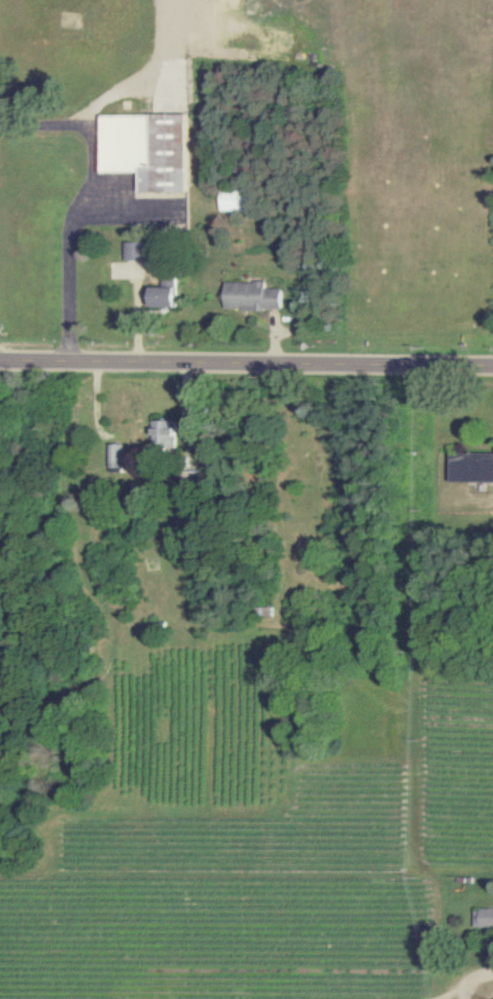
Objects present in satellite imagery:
building: (148, 149)
road: (86, 195)
building: (238, 202)
building: (135, 251)
building: (167, 295)
building: (254, 297)
road: (246, 365)
building: (164, 437)
building: (117, 459)
building: (473, 468)
building: (484, 917)
road: (476, 984)

